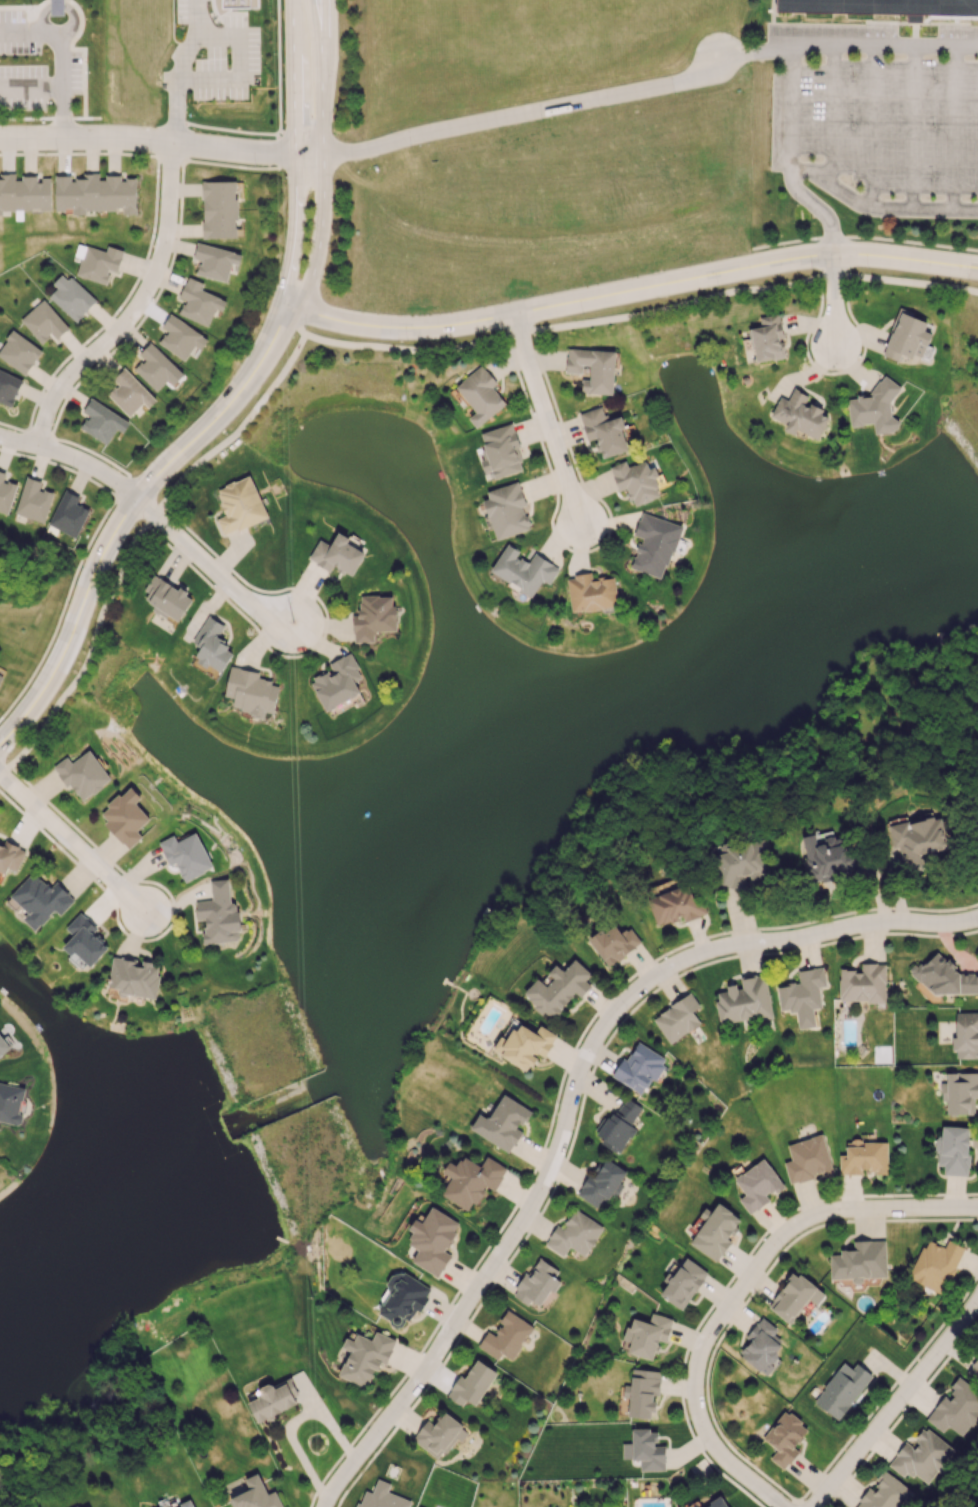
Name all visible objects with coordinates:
building: (239, 3)
building: (882, 6)
building: (56, 7)
road: (877, 44)
road: (747, 51)
road: (63, 56)
road: (240, 64)
road: (181, 70)
road: (295, 76)
road: (322, 76)
road: (278, 86)
road: (32, 89)
road: (791, 114)
road: (832, 114)
road: (510, 116)
road: (50, 118)
parking lot: (881, 118)
road: (871, 124)
road: (911, 126)
road: (953, 127)
road: (220, 128)
road: (148, 140)
road: (158, 155)
building: (24, 193)
building: (95, 193)
road: (879, 207)
building: (219, 209)
road: (821, 212)
road: (295, 230)
road: (320, 235)
building: (215, 261)
building: (99, 263)
road: (630, 290)
road: (833, 296)
building: (70, 297)
building: (199, 302)
road: (140, 309)
road: (294, 320)
building: (43, 322)
building: (180, 337)
building: (907, 337)
building: (768, 339)
road: (372, 346)
building: (19, 352)
building: (154, 366)
building: (593, 368)
building: (8, 387)
building: (129, 393)
building: (480, 395)
building: (874, 408)
building: (800, 415)
road: (546, 416)
building: (102, 421)
building: (604, 431)
road: (20, 442)
building: (501, 451)
road: (91, 470)
building: (636, 481)
building: (6, 493)
building: (33, 500)
building: (239, 505)
building: (506, 510)
building: (68, 514)
road: (126, 515)
building: (654, 544)
building: (337, 554)
road: (211, 570)
building: (523, 570)
building: (591, 592)
building: (167, 598)
building: (373, 617)
building: (212, 645)
building: (0, 675)
building: (337, 682)
building: (250, 691)
building: (83, 774)
building: (125, 817)
building: (917, 839)
road: (70, 843)
building: (186, 855)
building: (10, 856)
building: (827, 858)
building: (741, 863)
building: (40, 899)
building: (675, 905)
building: (219, 914)
building: (84, 940)
building: (614, 943)
building: (135, 977)
building: (944, 977)
building: (863, 983)
building: (558, 988)
building: (803, 996)
building: (744, 1000)
building: (678, 1018)
building: (966, 1035)
building: (525, 1045)
building: (3, 1046)
building: (639, 1067)
road: (560, 1087)
building: (960, 1092)
road: (572, 1098)
building: (11, 1102)
road: (580, 1105)
building: (502, 1123)
building: (618, 1126)
building: (953, 1150)
building: (864, 1157)
building: (807, 1159)
building: (471, 1180)
building: (602, 1183)
building: (757, 1185)
building: (715, 1231)
building: (574, 1234)
building: (432, 1240)
building: (859, 1261)
building: (935, 1265)
building: (538, 1281)
building: (683, 1283)
road: (744, 1286)
building: (794, 1297)
building: (401, 1300)
building: (647, 1335)
building: (506, 1336)
building: (762, 1346)
building: (365, 1357)
building: (974, 1367)
building: (472, 1384)
building: (842, 1389)
building: (642, 1392)
building: (273, 1400)
road: (893, 1401)
building: (956, 1409)
building: (439, 1435)
building: (784, 1438)
building: (645, 1450)
building: (921, 1456)
building: (885, 1493)
building: (255, 1495)
building: (381, 1497)
building: (717, 1503)
building: (186, 1504)
building: (87, 1506)
building: (168, 1506)

